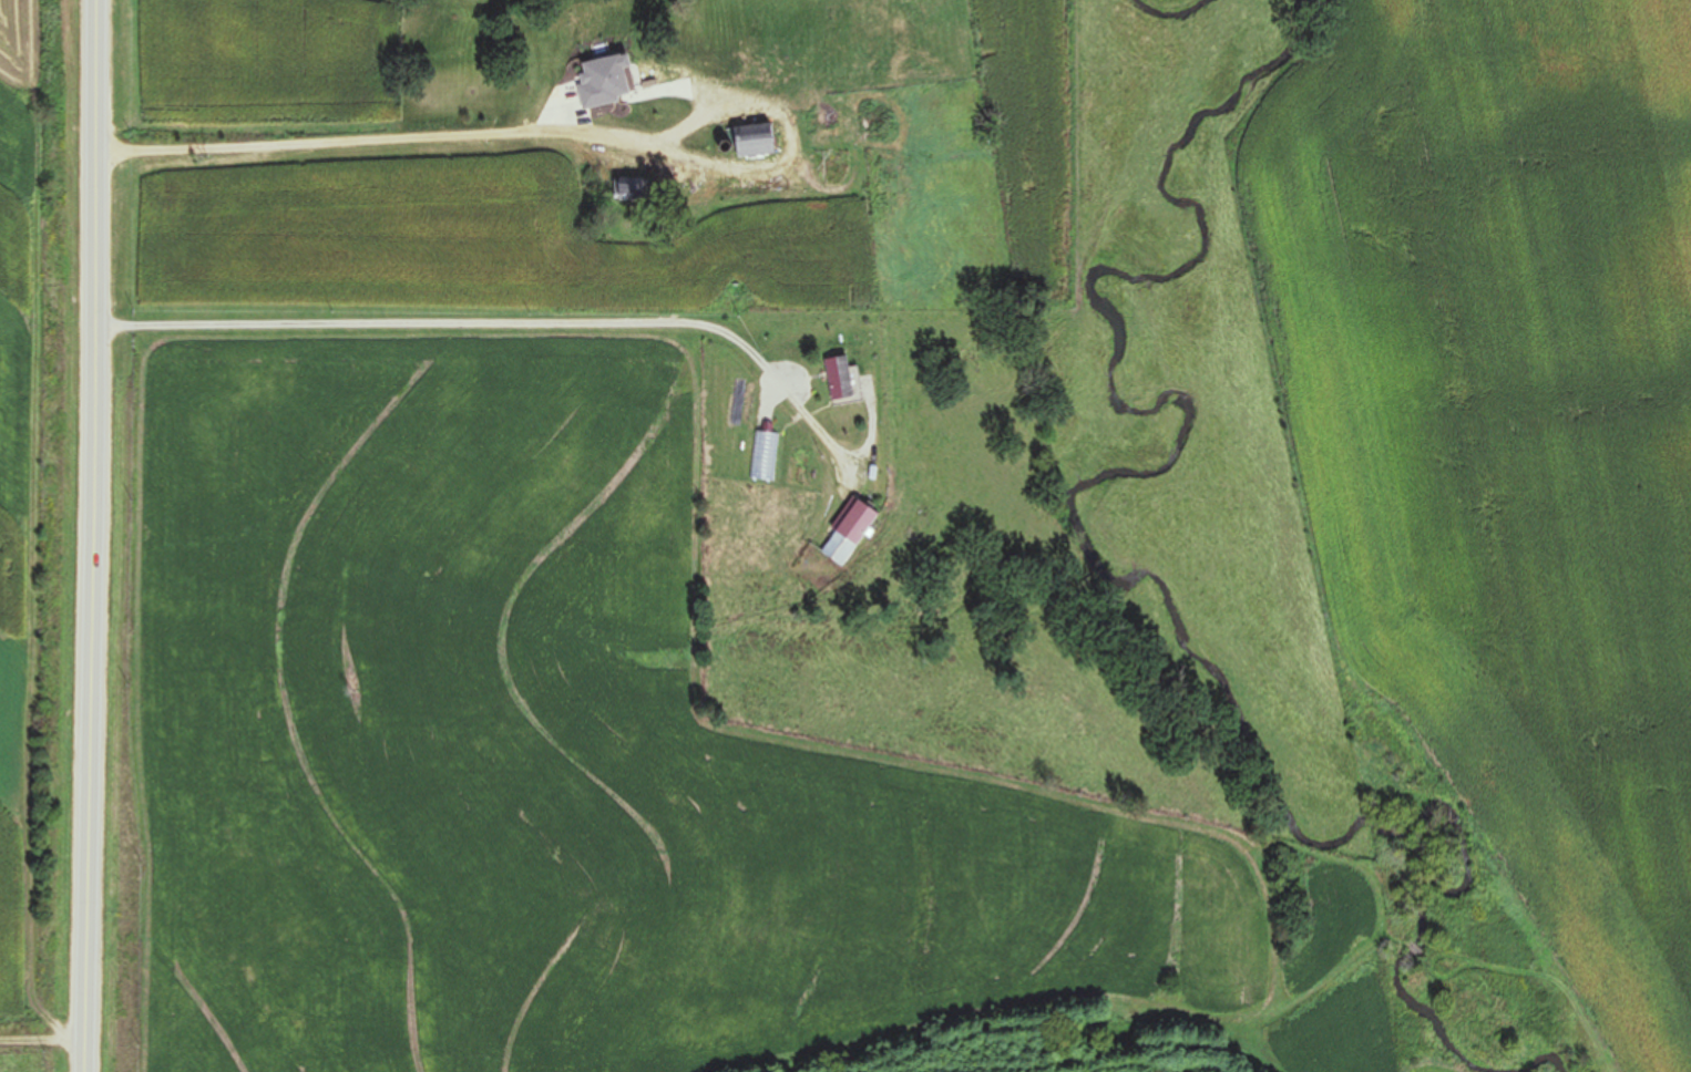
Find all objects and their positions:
river: (1182, 7)
road: (400, 138)
building: (750, 142)
building: (708, 151)
building: (627, 190)
road: (546, 326)
building: (836, 377)
building: (845, 533)
road: (92, 536)
river: (1090, 556)
road: (42, 1045)

